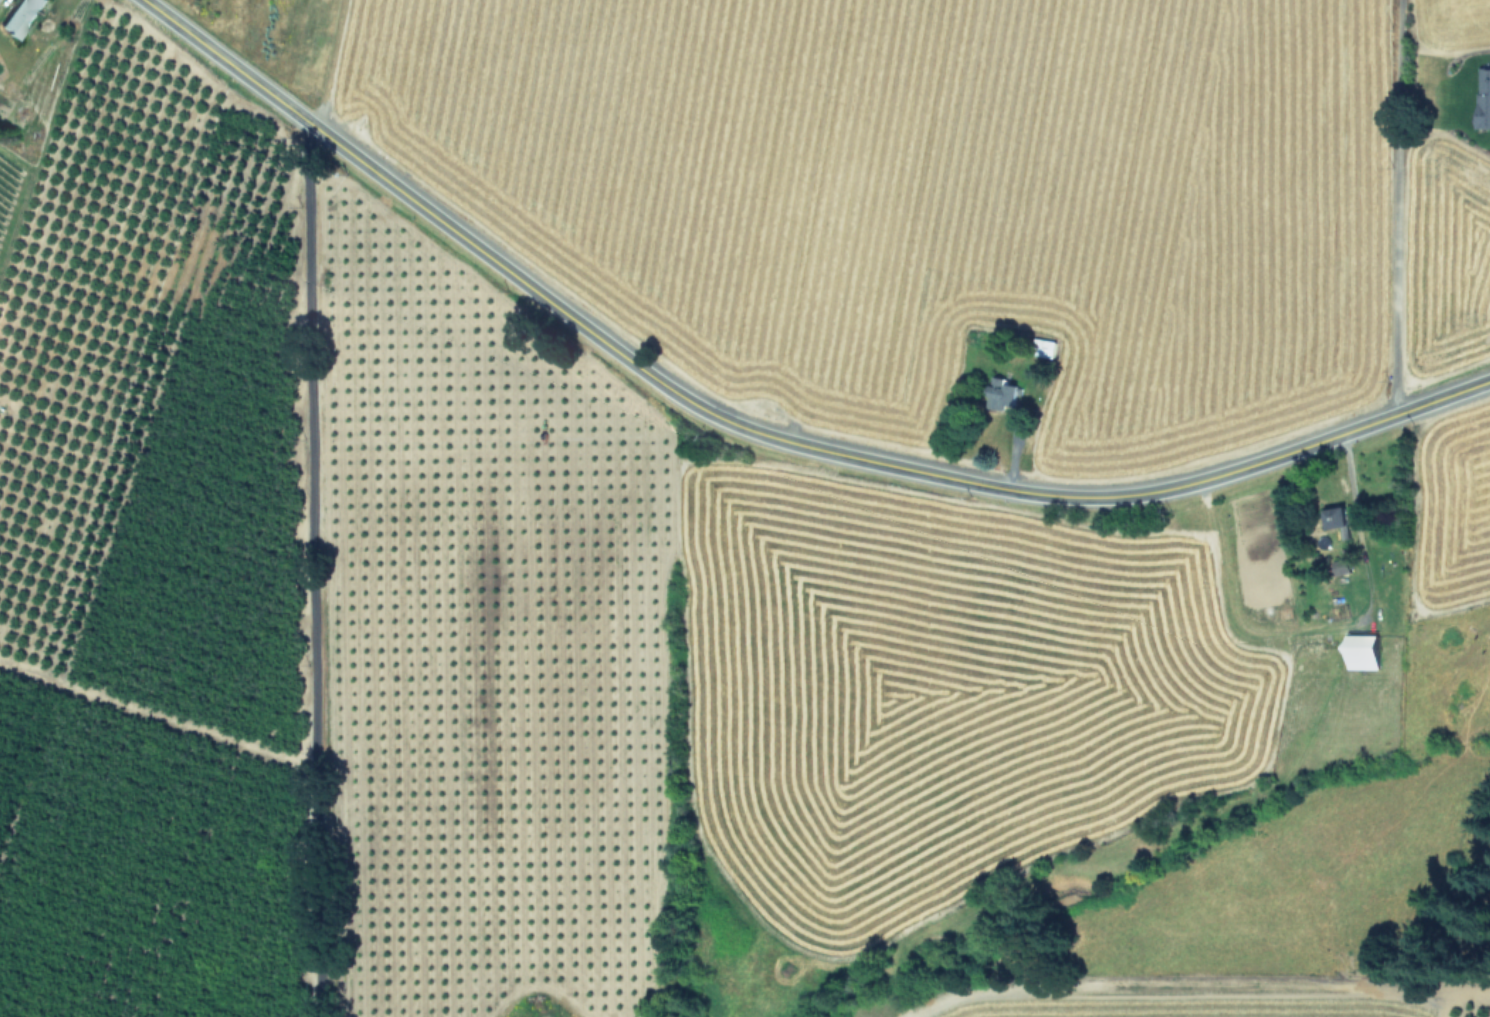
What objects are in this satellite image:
building: (20, 16)
building: (1484, 97)
crop: (966, 185)
road: (1393, 207)
building: (1047, 348)
building: (1002, 392)
road: (760, 432)
building: (1338, 518)
road: (310, 570)
building: (1364, 651)
crop: (874, 710)

